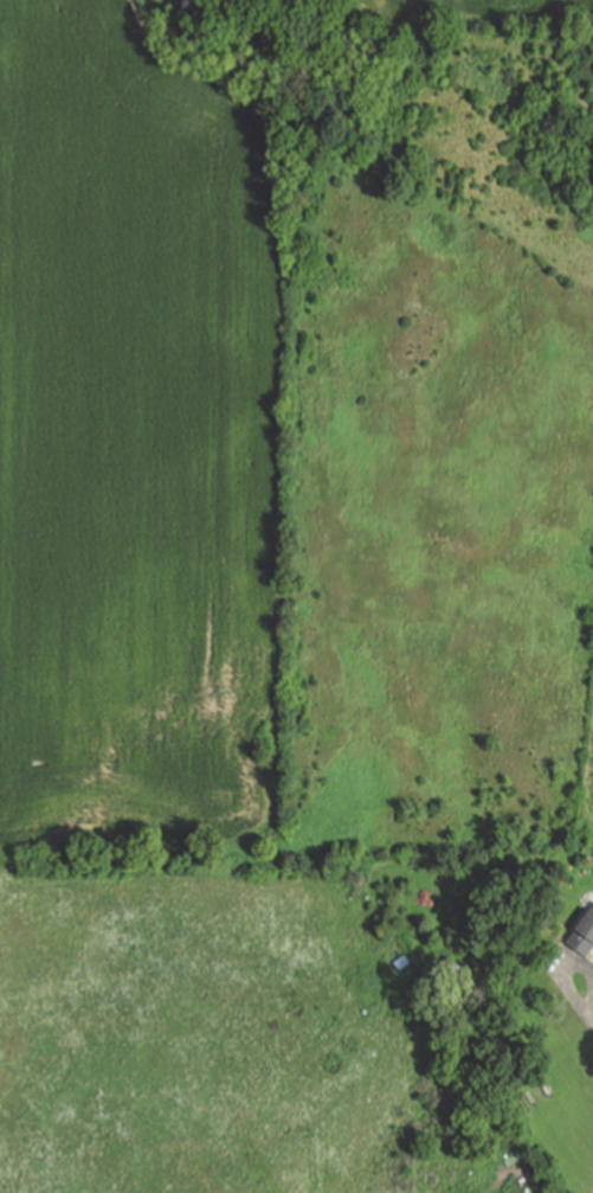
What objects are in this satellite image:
crop: (257, 493)
building: (584, 934)
road: (572, 966)
road: (591, 1022)

